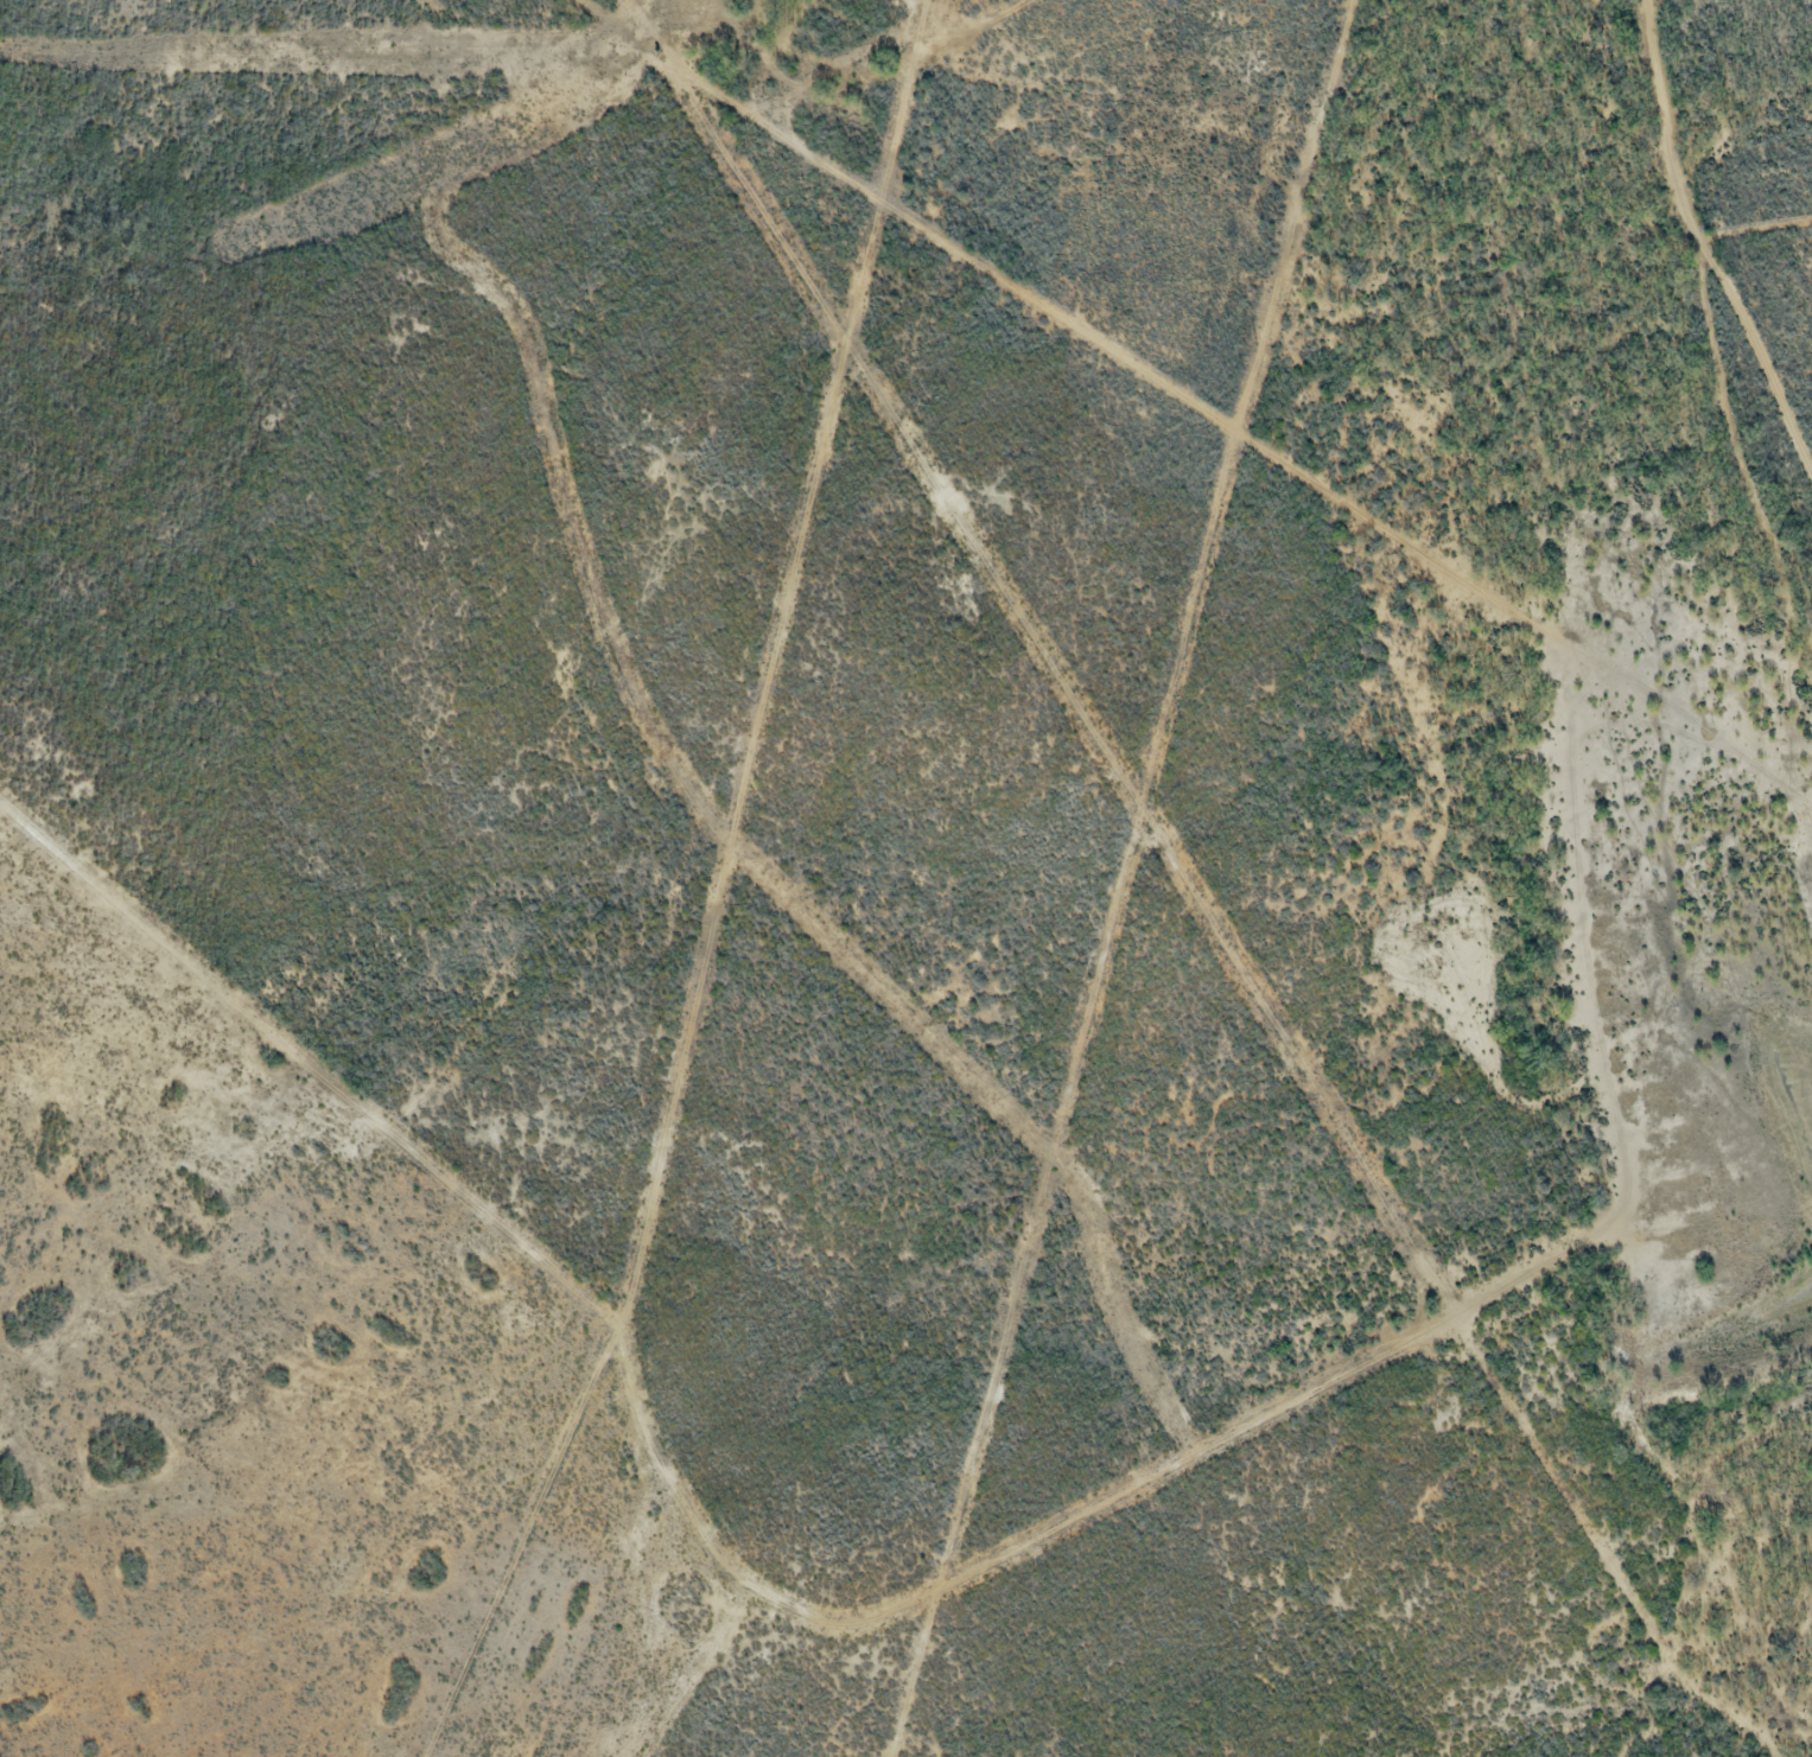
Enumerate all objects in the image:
road: (1709, 313)

